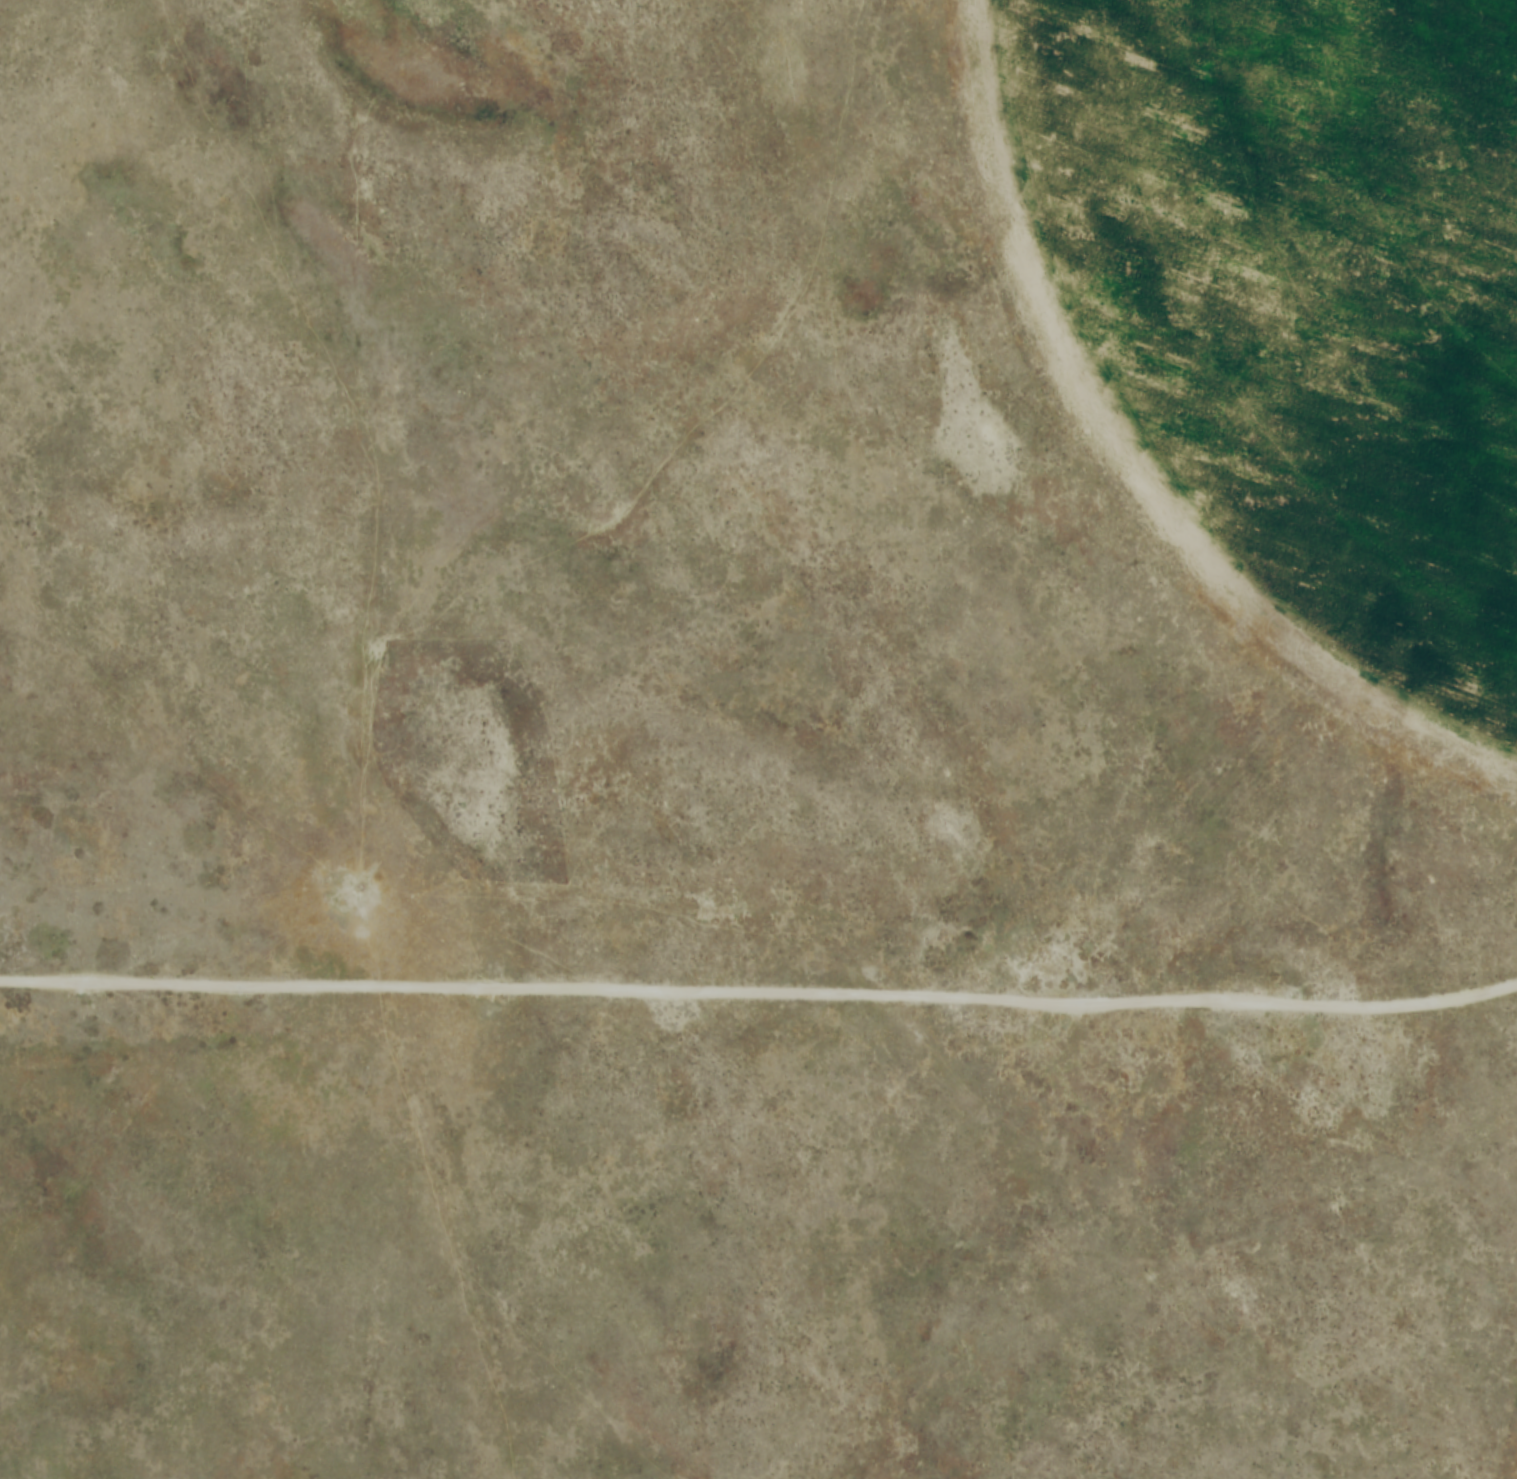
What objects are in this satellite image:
crop: (1287, 311)

